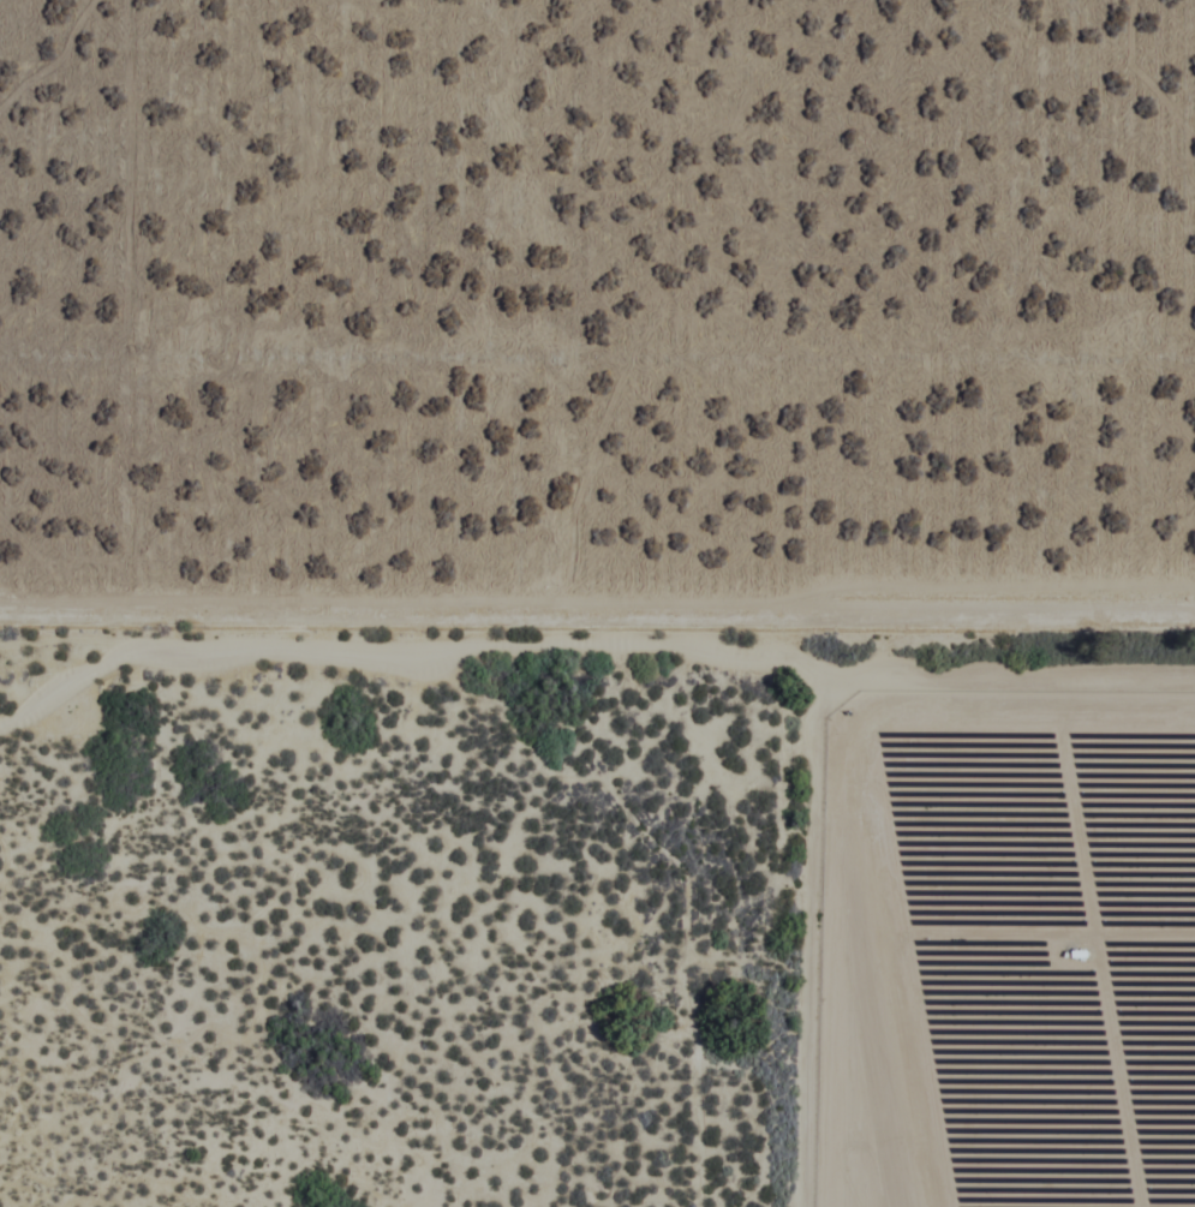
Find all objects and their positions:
solar farm: (1009, 950)

